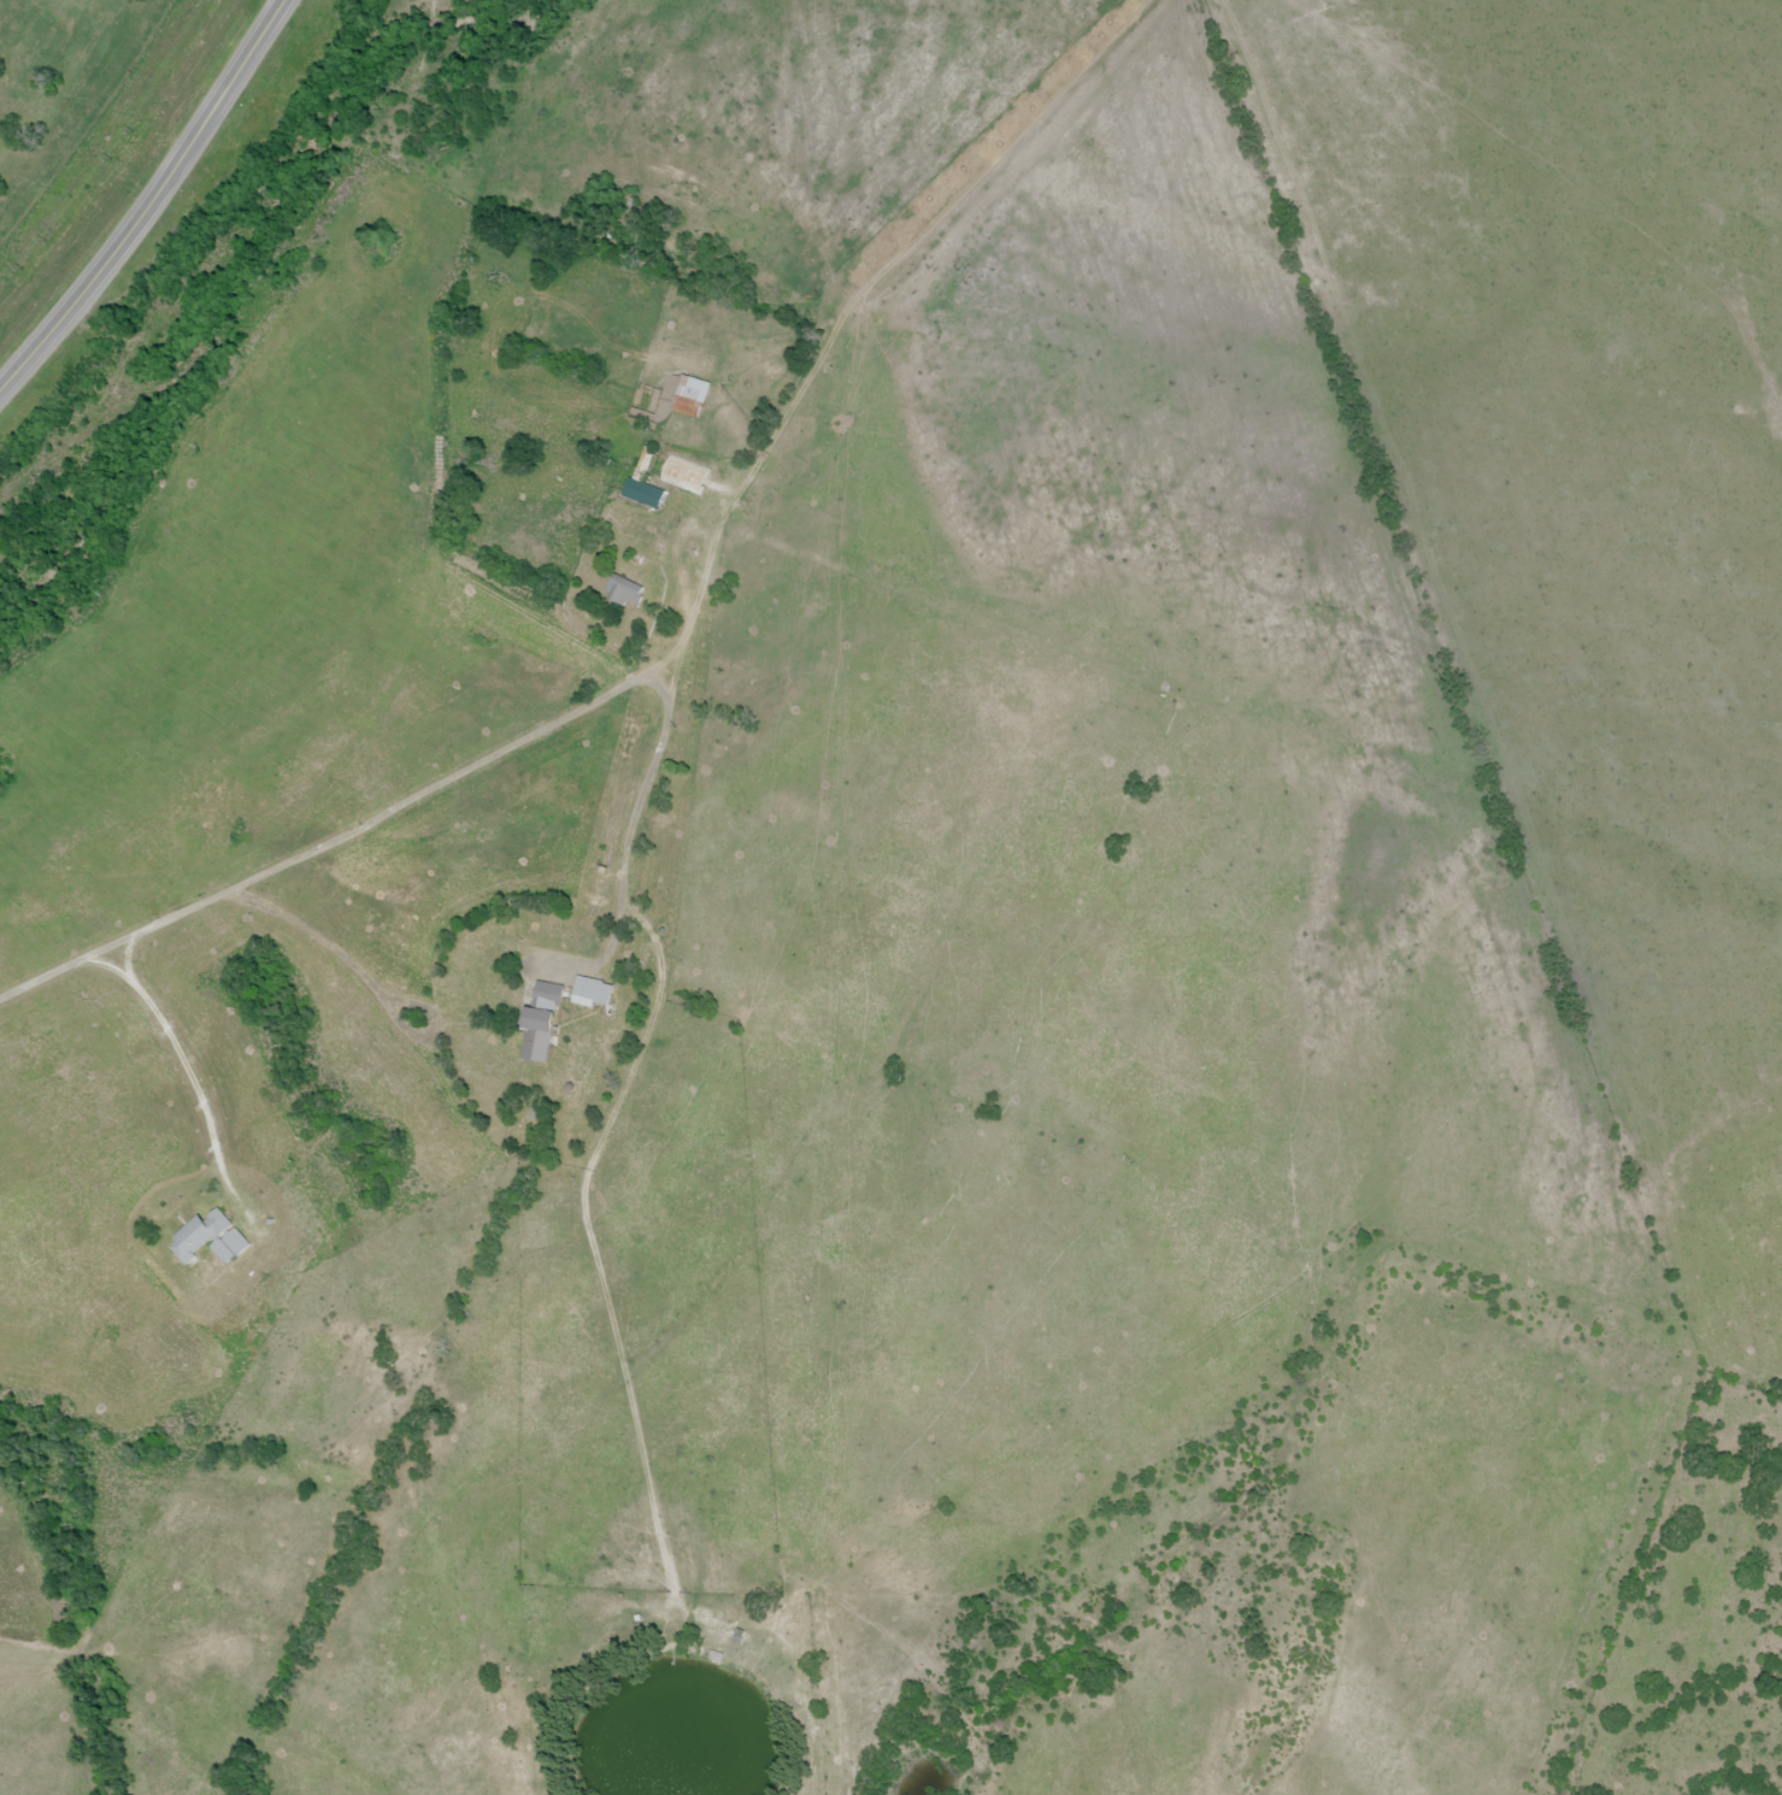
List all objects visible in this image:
railway: (94, 124)
road: (151, 201)
building: (689, 398)
building: (684, 477)
building: (643, 495)
building: (623, 593)
road: (422, 789)
building: (592, 991)
building: (547, 995)
building: (536, 1037)
building: (208, 1240)

